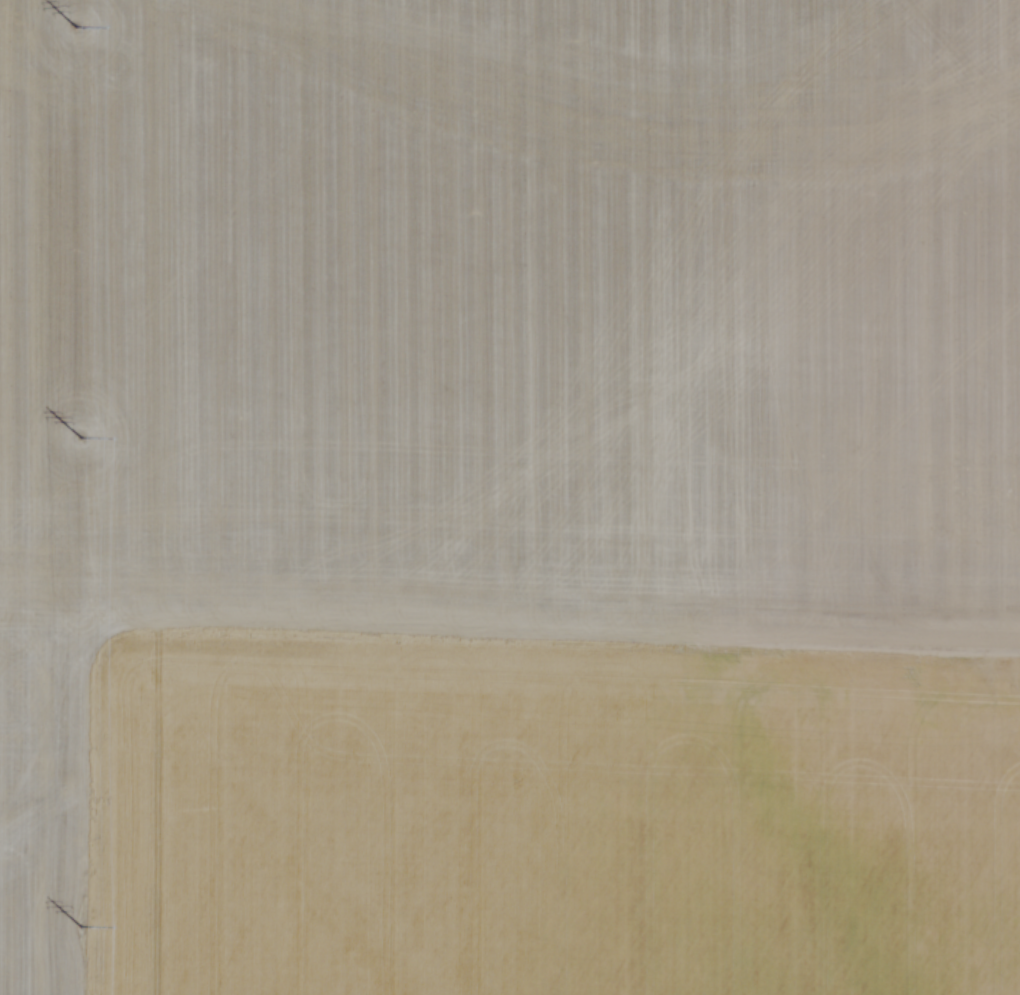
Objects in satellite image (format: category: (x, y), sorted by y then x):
power tower: (76, 37)
power tower: (73, 444)
power tower: (75, 931)

